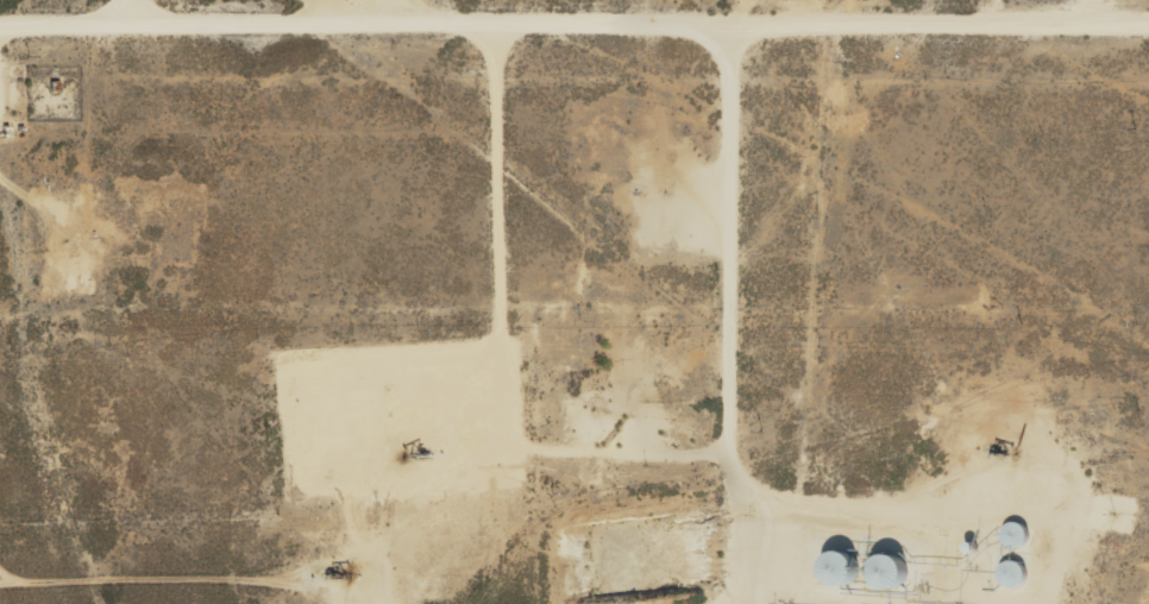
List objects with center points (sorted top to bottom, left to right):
road: (1098, 13)
road: (573, 27)
road: (733, 317)
river: (103, 541)

